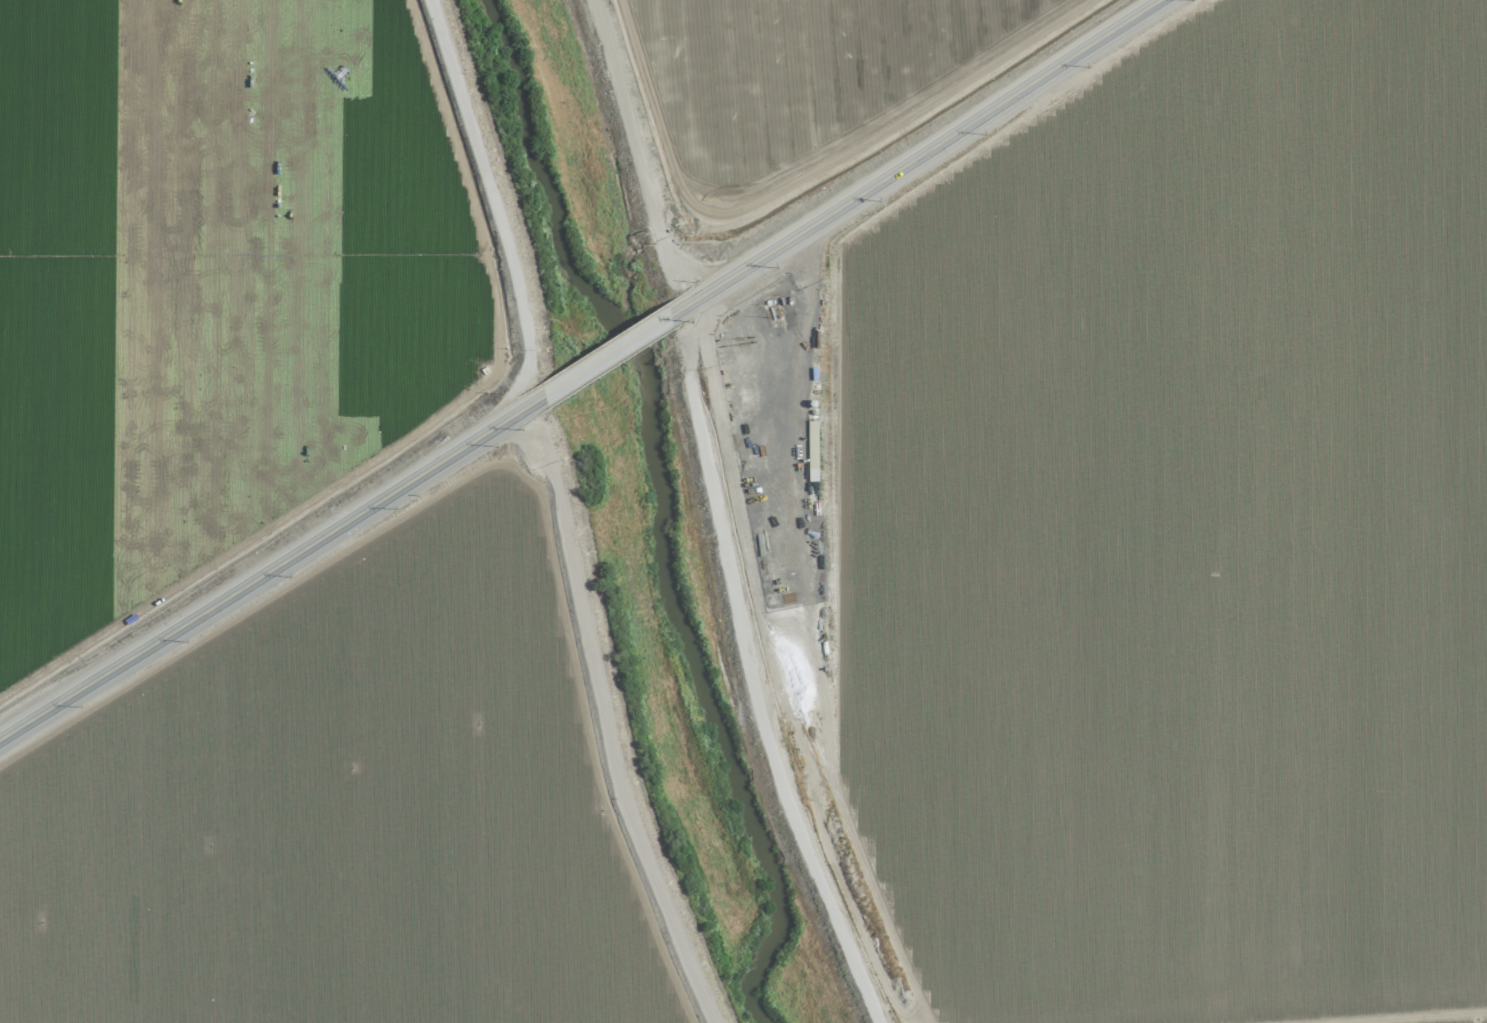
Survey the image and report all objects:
crop: (785, 96)
road: (916, 157)
road: (606, 355)
crop: (1171, 540)
crop: (277, 552)
road: (271, 567)
road: (604, 719)

